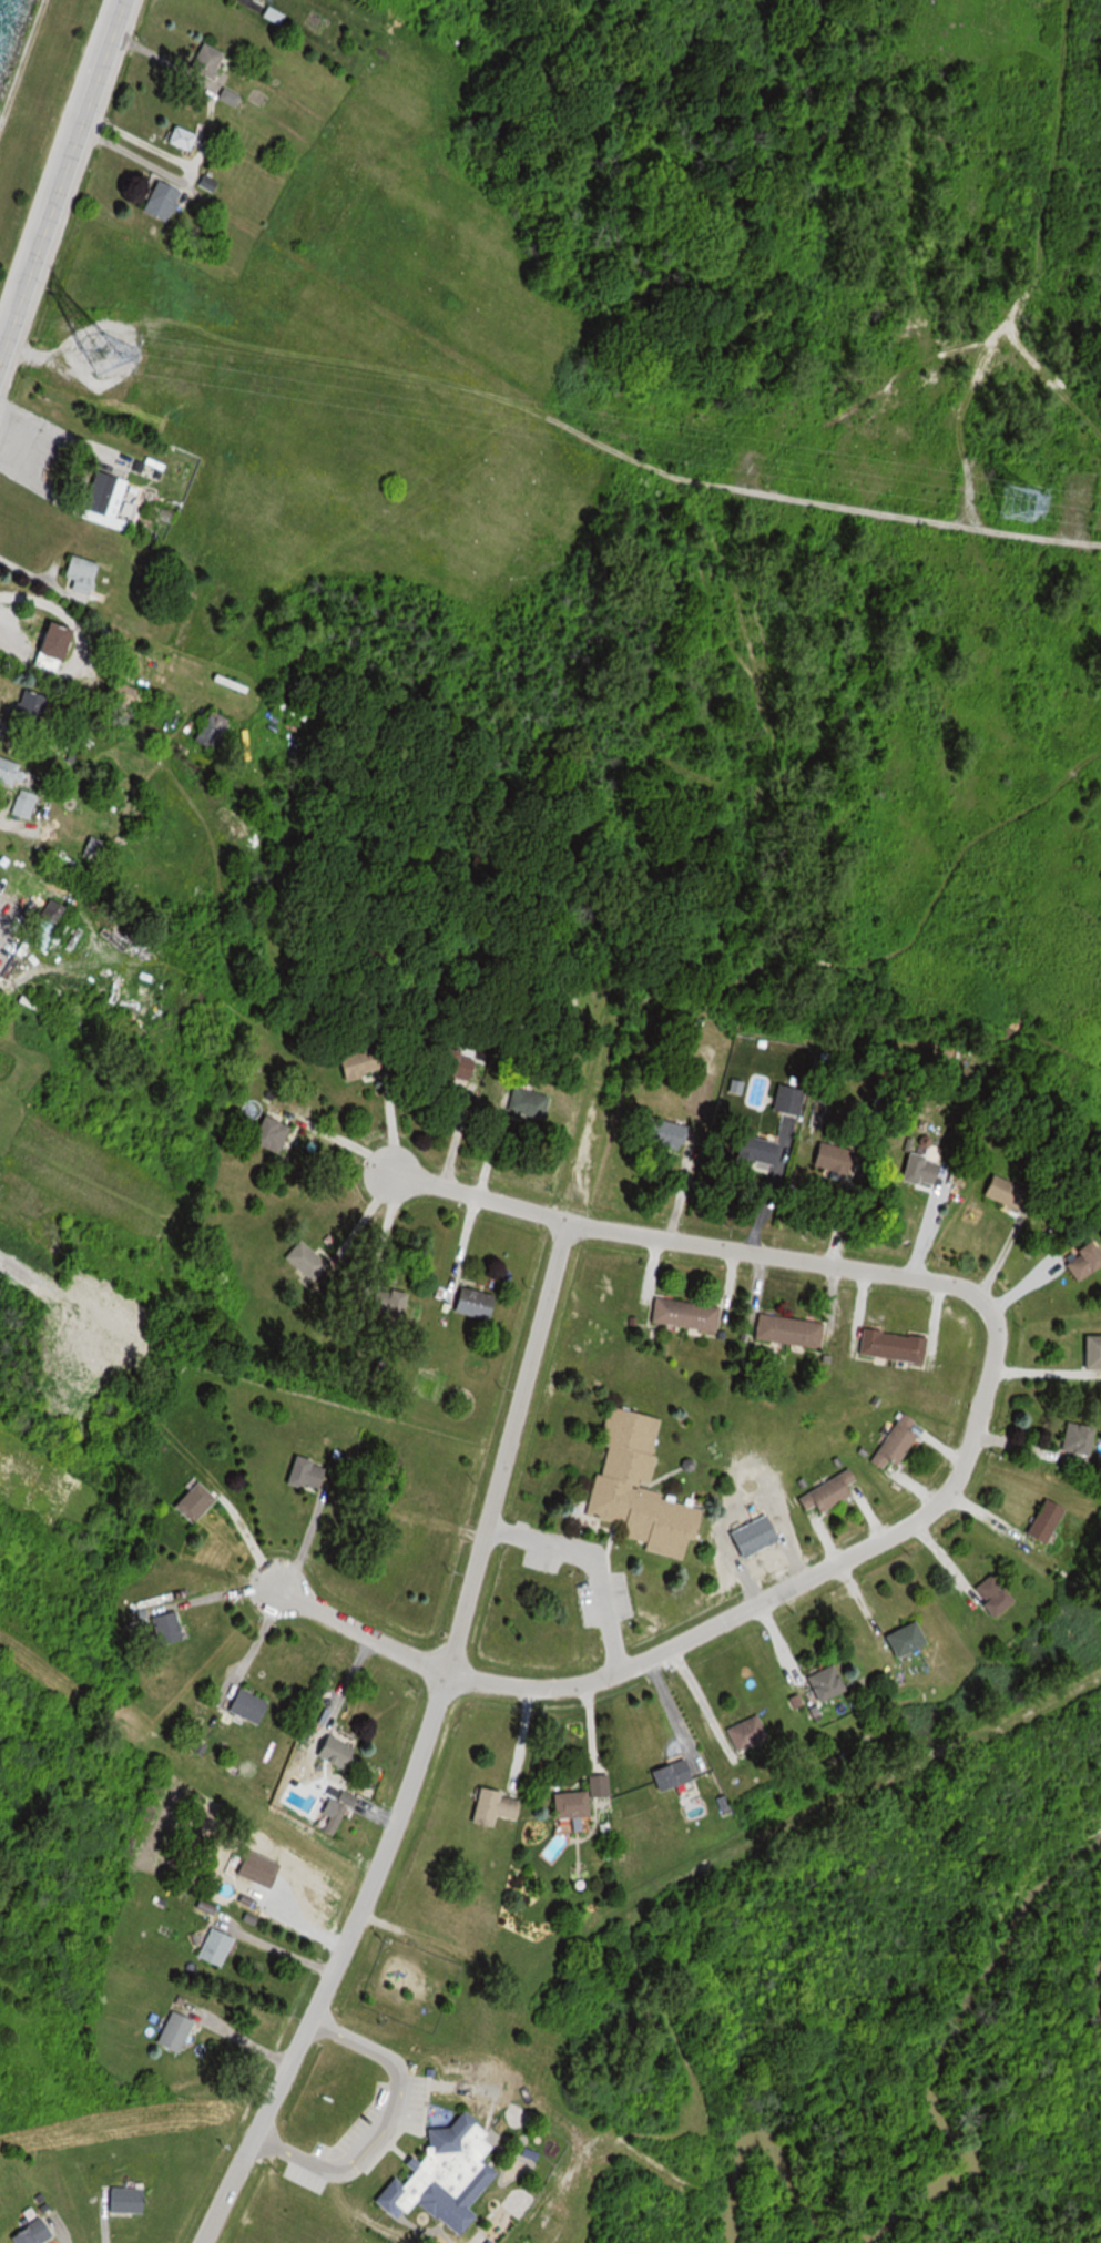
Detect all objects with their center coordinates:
road: (61, 180)
power tower: (104, 351)
power tower: (1006, 501)

